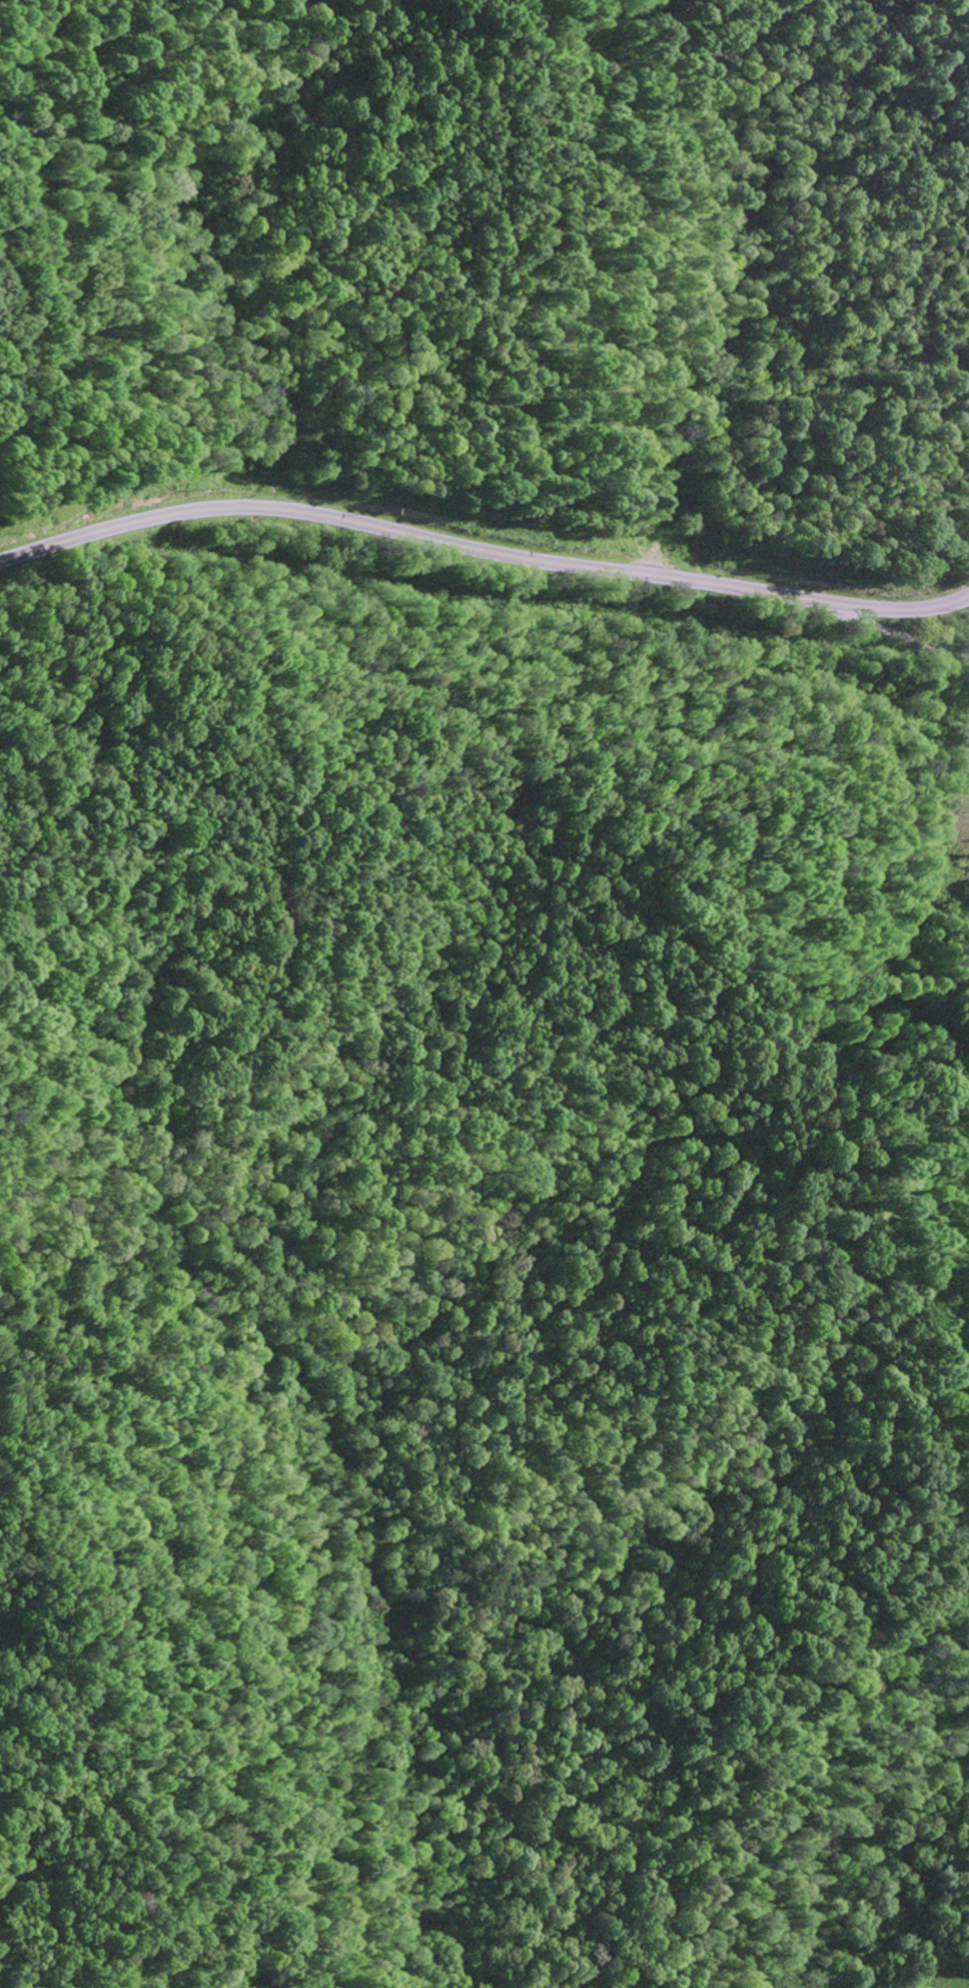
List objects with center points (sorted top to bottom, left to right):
road: (482, 549)
road: (899, 632)

